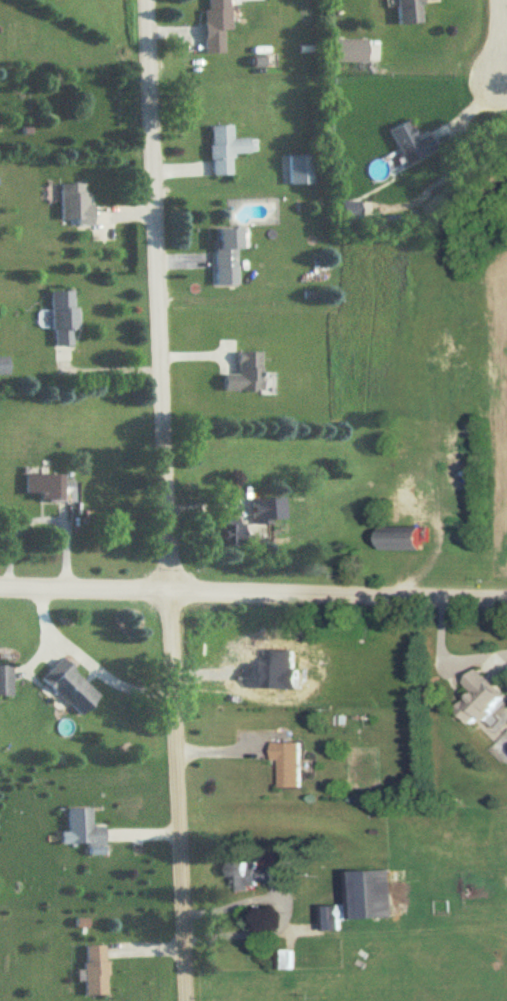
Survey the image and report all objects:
building: (410, 12)
building: (217, 25)
road: (496, 41)
building: (349, 51)
road: (502, 85)
building: (412, 143)
building: (225, 150)
building: (296, 170)
building: (75, 205)
building: (350, 211)
building: (228, 248)
building: (64, 318)
road: (101, 368)
building: (246, 375)
building: (51, 488)
road: (160, 500)
building: (262, 513)
road: (41, 515)
building: (231, 533)
building: (406, 540)
road: (253, 591)
road: (85, 657)
road: (446, 657)
building: (6, 681)
building: (72, 688)
building: (486, 699)
road: (229, 749)
building: (290, 764)
building: (82, 830)
building: (260, 877)
building: (362, 902)
road: (238, 932)
building: (95, 971)

